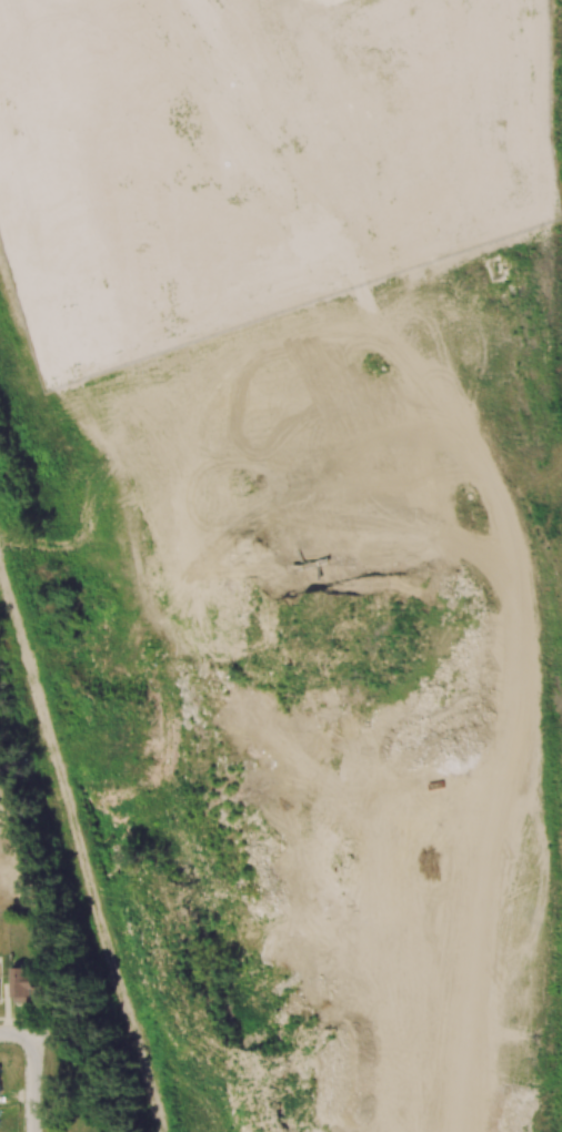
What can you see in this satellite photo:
building: (23, 982)
road: (16, 1034)
road: (33, 1086)
building: (0, 1091)

